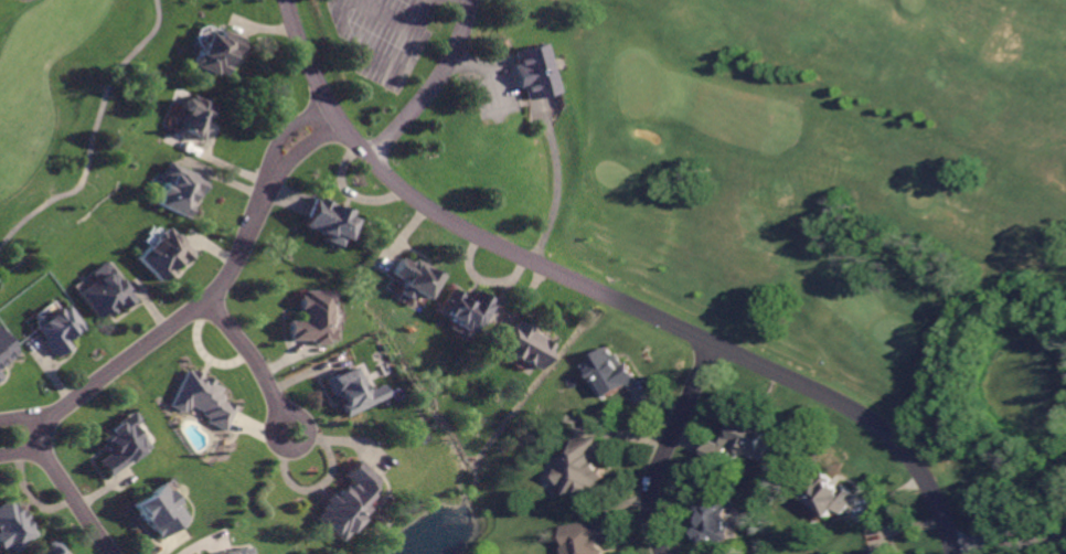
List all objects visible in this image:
building: (213, 50)
building: (533, 71)
road: (435, 88)
park: (68, 106)
building: (190, 110)
road: (94, 134)
building: (177, 189)
building: (328, 221)
building: (161, 254)
building: (413, 277)
building: (100, 289)
road: (599, 296)
building: (462, 308)
building: (312, 317)
building: (56, 331)
road: (158, 339)
building: (524, 345)
building: (3, 351)
road: (255, 362)
building: (608, 370)
building: (353, 390)
building: (200, 397)
road: (28, 416)
building: (746, 435)
building: (118, 443)
road: (665, 447)
building: (712, 451)
road: (22, 454)
building: (580, 467)
building: (828, 496)
building: (344, 500)
building: (158, 510)
building: (711, 521)
building: (10, 529)
building: (584, 536)
road: (1009, 543)
building: (49, 547)
building: (233, 551)
building: (878, 551)

